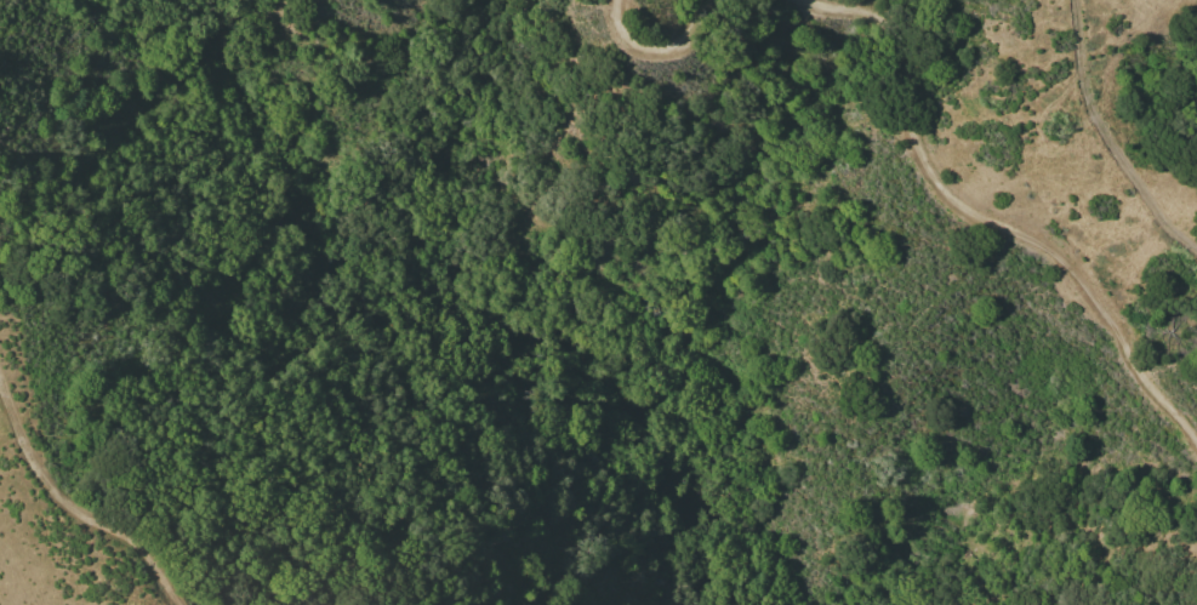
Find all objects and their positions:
road: (660, 51)
road: (973, 216)
road: (69, 512)

